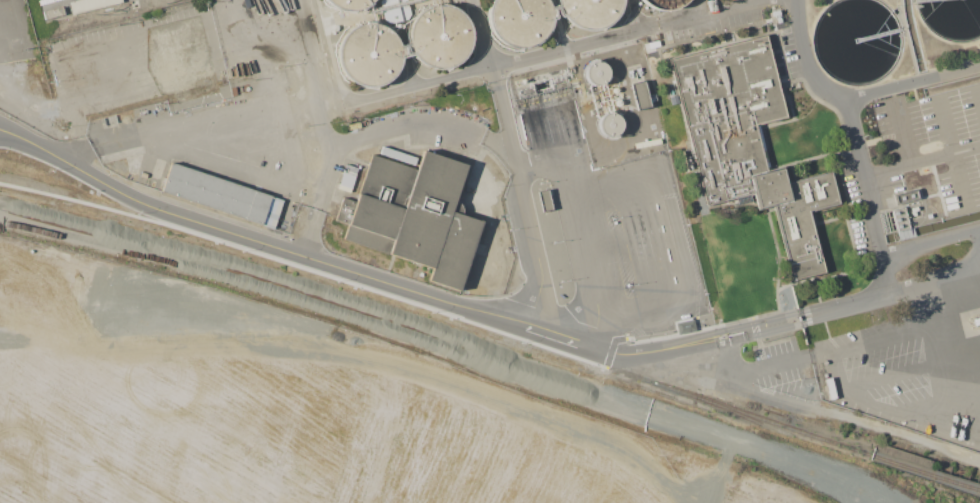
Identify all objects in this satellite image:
building: (349, 4)
storage tank: (349, 4)
building: (665, 4)
storage tank: (665, 4)
building: (91, 5)
road: (711, 5)
building: (591, 12)
storage tank: (591, 12)
building: (53, 13)
road: (634, 15)
building: (518, 21)
storage tank: (518, 21)
building: (438, 36)
storage tank: (438, 36)
road: (481, 40)
building: (654, 44)
road: (265, 47)
road: (81, 53)
building: (368, 54)
storage tank: (368, 54)
road: (313, 62)
building: (596, 73)
road: (912, 82)
road: (422, 83)
road: (979, 88)
building: (641, 94)
road: (403, 124)
building: (610, 124)
parking lot: (422, 127)
building: (464, 129)
road: (549, 129)
road: (902, 131)
building: (747, 141)
road: (498, 143)
road: (951, 152)
road: (79, 154)
parking lot: (915, 157)
road: (921, 160)
wastewater plant: (588, 162)
road: (328, 167)
road: (863, 175)
building: (221, 195)
building: (906, 197)
building: (545, 201)
road: (524, 203)
building: (418, 215)
road: (161, 216)
building: (900, 223)
road: (578, 231)
road: (979, 231)
road: (309, 232)
road: (930, 241)
road: (652, 242)
road: (286, 250)
road: (300, 260)
road: (304, 268)
road: (935, 282)
road: (776, 293)
road: (807, 312)
road: (751, 317)
road: (809, 318)
building: (976, 320)
gas station: (976, 320)
parking lot: (650, 323)
road: (824, 324)
road: (742, 325)
building: (684, 326)
road: (700, 328)
road: (754, 328)
road: (524, 332)
road: (744, 336)
road: (880, 340)
road: (769, 342)
road: (833, 344)
road: (611, 348)
road: (597, 349)
road: (649, 350)
road: (582, 352)
road: (820, 354)
road: (761, 355)
road: (959, 358)
road: (704, 364)
road: (770, 364)
road: (938, 366)
parking lot: (783, 369)
parking lot: (877, 372)
road: (890, 376)
road: (806, 379)
road: (768, 398)
railway: (702, 399)
road: (875, 405)
railway: (790, 429)
road: (914, 438)
railway: (923, 473)

